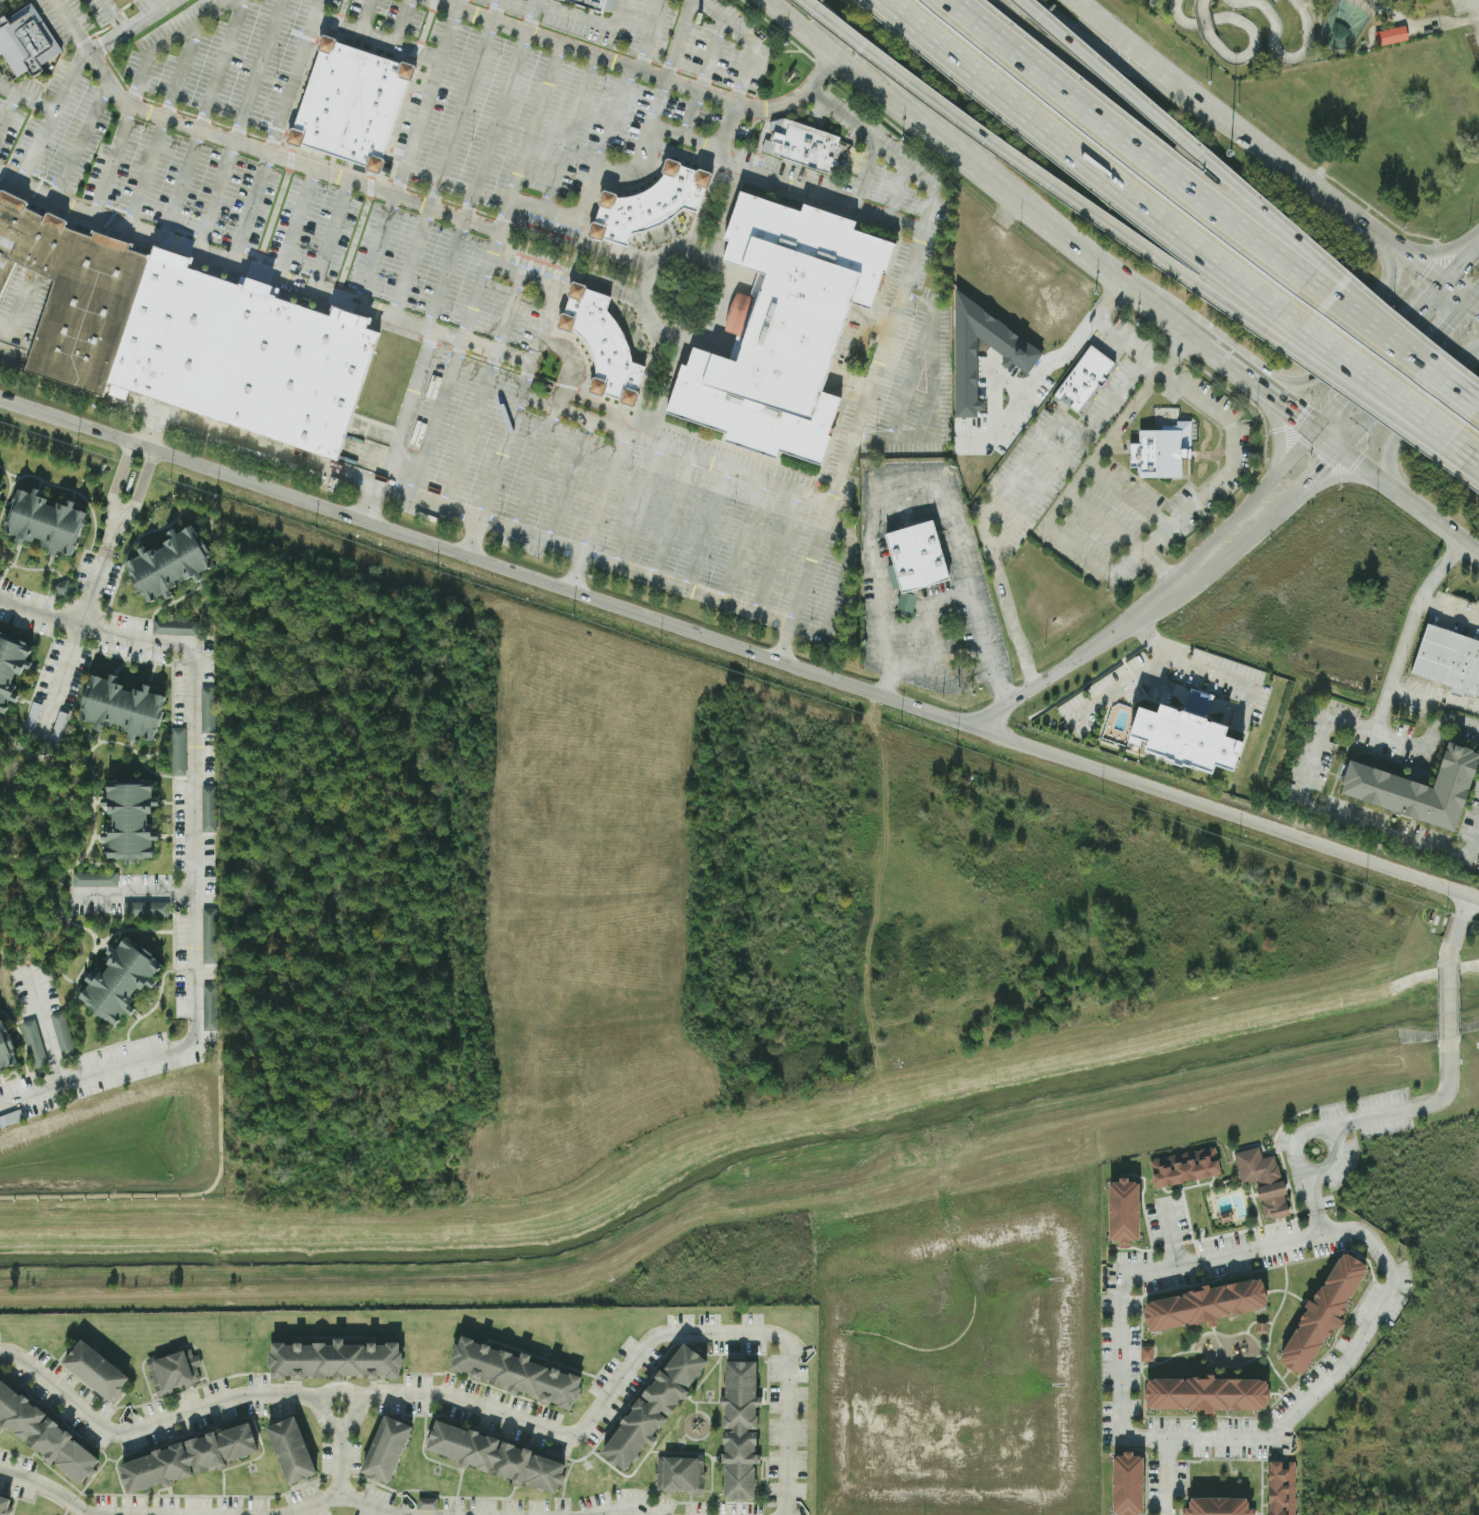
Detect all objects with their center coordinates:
building: (1300, 0)
building: (1301, 0)
building: (590, 4)
road: (457, 5)
road: (1476, 6)
road: (495, 11)
road: (112, 15)
road: (364, 15)
road: (531, 17)
road: (589, 17)
road: (401, 21)
road: (129, 26)
road: (1427, 26)
road: (375, 35)
road: (648, 35)
building: (1390, 37)
building: (26, 40)
road: (679, 40)
road: (1349, 53)
road: (710, 55)
road: (748, 68)
road: (635, 69)
road: (292, 75)
road: (909, 81)
road: (1178, 81)
road: (1151, 83)
road: (136, 90)
road: (26, 100)
road: (424, 102)
building: (351, 104)
road: (923, 109)
road: (7, 113)
road: (460, 114)
road: (689, 114)
road: (50, 116)
road: (615, 117)
road: (203, 121)
road: (536, 121)
road: (163, 125)
road: (240, 127)
road: (1171, 131)
road: (570, 133)
road: (80, 141)
road: (1128, 143)
building: (800, 144)
road: (253, 146)
road: (679, 152)
road: (1087, 159)
road: (964, 162)
road: (749, 169)
road: (477, 183)
road: (592, 183)
road: (1330, 202)
building: (649, 204)
road: (249, 208)
road: (867, 211)
road: (296, 224)
road: (909, 224)
road: (330, 236)
road: (1142, 248)
road: (375, 252)
road: (411, 264)
road: (1408, 264)
road: (1457, 264)
road: (913, 265)
traffic signals: (1436, 287)
road: (478, 288)
road: (555, 292)
road: (1453, 295)
road: (1474, 298)
traffic signals: (1470, 304)
road: (1474, 307)
road: (354, 308)
road: (1383, 321)
building: (784, 326)
road: (873, 326)
road: (1104, 329)
road: (1375, 330)
building: (182, 335)
building: (603, 342)
building: (1022, 353)
road: (1375, 359)
road: (570, 363)
road: (1244, 376)
road: (1403, 376)
road: (1315, 377)
building: (1084, 379)
road: (1380, 379)
road: (1035, 380)
road: (910, 382)
road: (852, 386)
road: (996, 386)
road: (483, 389)
road: (935, 390)
road: (1461, 393)
road: (1365, 400)
road: (595, 403)
road: (1417, 408)
road: (435, 418)
road: (404, 428)
road: (1276, 430)
traffic signals: (1315, 431)
road: (250, 438)
road: (1326, 439)
traffic signals: (1337, 448)
road: (1296, 451)
road: (1477, 451)
building: (1160, 452)
road: (1025, 463)
road: (537, 467)
road: (1471, 471)
road: (119, 474)
road: (571, 479)
road: (141, 482)
road: (1300, 484)
building: (2, 487)
road: (605, 491)
road: (1037, 491)
road: (1130, 495)
road: (429, 499)
road: (880, 501)
road: (639, 503)
road: (1407, 503)
road: (674, 514)
building: (47, 520)
road: (1103, 524)
road: (822, 526)
road: (709, 528)
road: (532, 534)
road: (743, 538)
road: (1210, 540)
road: (776, 550)
building: (916, 556)
road: (1225, 557)
road: (489, 559)
building: (171, 562)
road: (1158, 562)
road: (1120, 569)
building: (1, 576)
road: (842, 589)
road: (958, 591)
road: (1165, 600)
road: (1451, 608)
road: (78, 626)
building: (174, 628)
road: (784, 641)
building: (1448, 660)
road: (1149, 663)
building: (10, 664)
road: (1199, 665)
road: (1063, 669)
road: (1390, 686)
road: (1106, 698)
road: (1434, 699)
road: (1191, 700)
building: (124, 706)
building: (207, 710)
building: (1185, 738)
road: (1432, 739)
building: (178, 752)
building: (1415, 789)
building: (207, 810)
road: (1229, 811)
building: (131, 817)
road: (1428, 845)
road: (192, 848)
building: (94, 880)
road: (131, 895)
building: (145, 910)
road: (1460, 922)
building: (208, 936)
building: (121, 979)
road: (1450, 993)
building: (209, 1008)
road: (45, 1026)
building: (62, 1034)
building: (33, 1043)
building: (5, 1046)
road: (1412, 1108)
road: (1305, 1134)
river: (738, 1154)
building: (1183, 1168)
building: (1262, 1180)
road: (1314, 1190)
building: (1122, 1211)
road: (1320, 1219)
road: (1171, 1232)
road: (1124, 1275)
building: (1208, 1303)
building: (1323, 1311)
building: (1146, 1353)
building: (339, 1360)
building: (98, 1368)
building: (174, 1368)
building: (517, 1371)
building: (1209, 1392)
road: (1313, 1393)
building: (656, 1405)
road: (489, 1410)
building: (740, 1429)
building: (46, 1433)
road: (340, 1444)
building: (387, 1447)
building: (292, 1449)
building: (496, 1454)
building: (189, 1455)
building: (682, 1473)
building: (1130, 1484)
building: (1281, 1488)
road: (47, 1490)
road: (339, 1494)
building: (4, 1504)
building: (427, 1504)
road: (622, 1506)
building: (1220, 1506)

